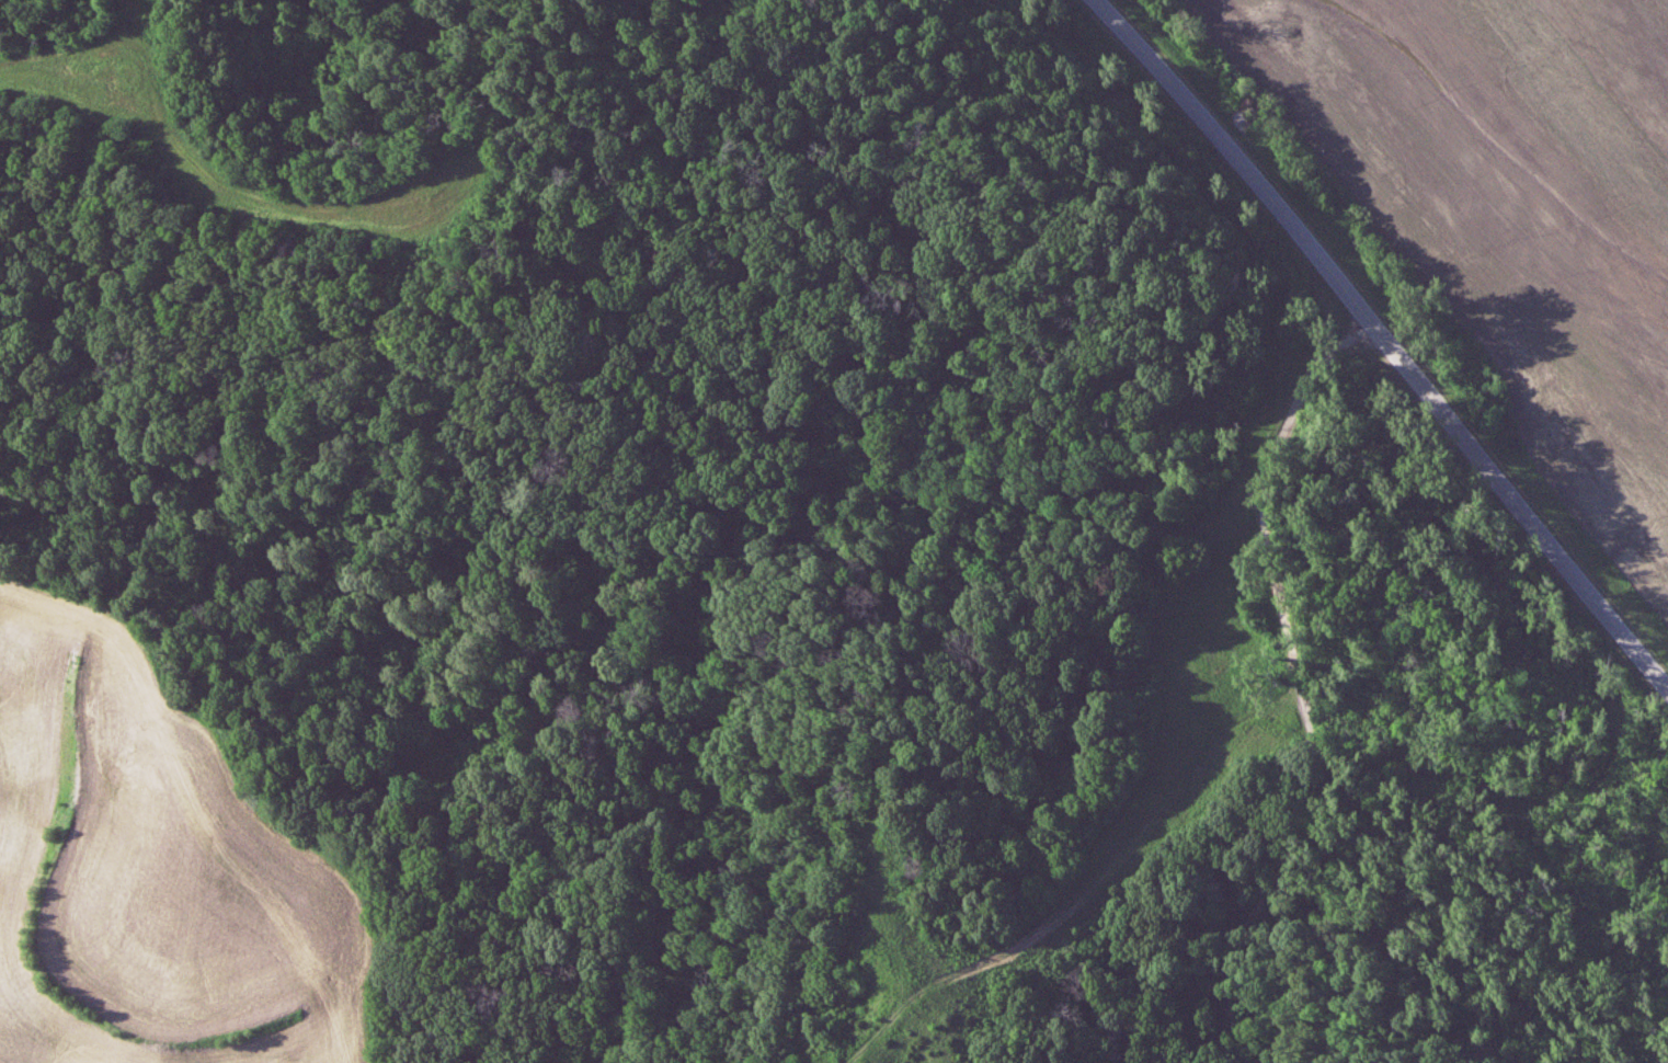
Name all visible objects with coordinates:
road: (1384, 339)

